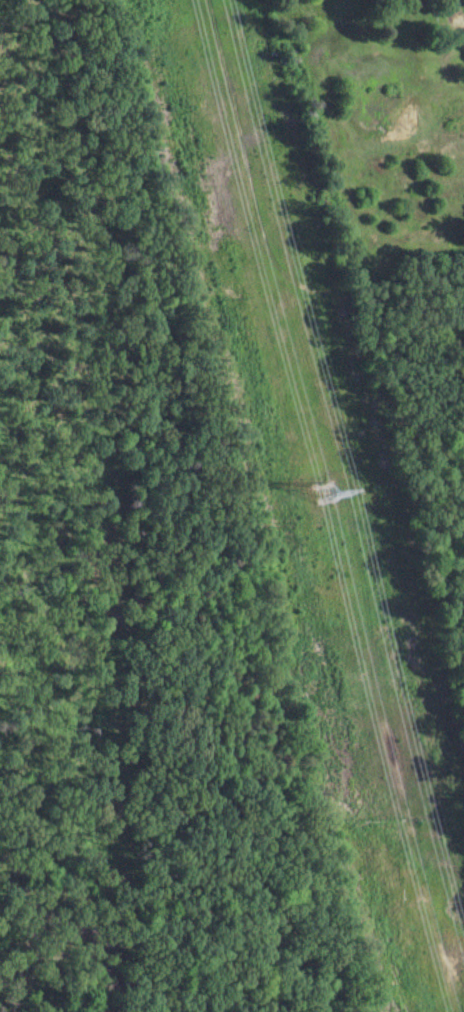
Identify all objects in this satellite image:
road: (457, 9)
power tower: (321, 489)

